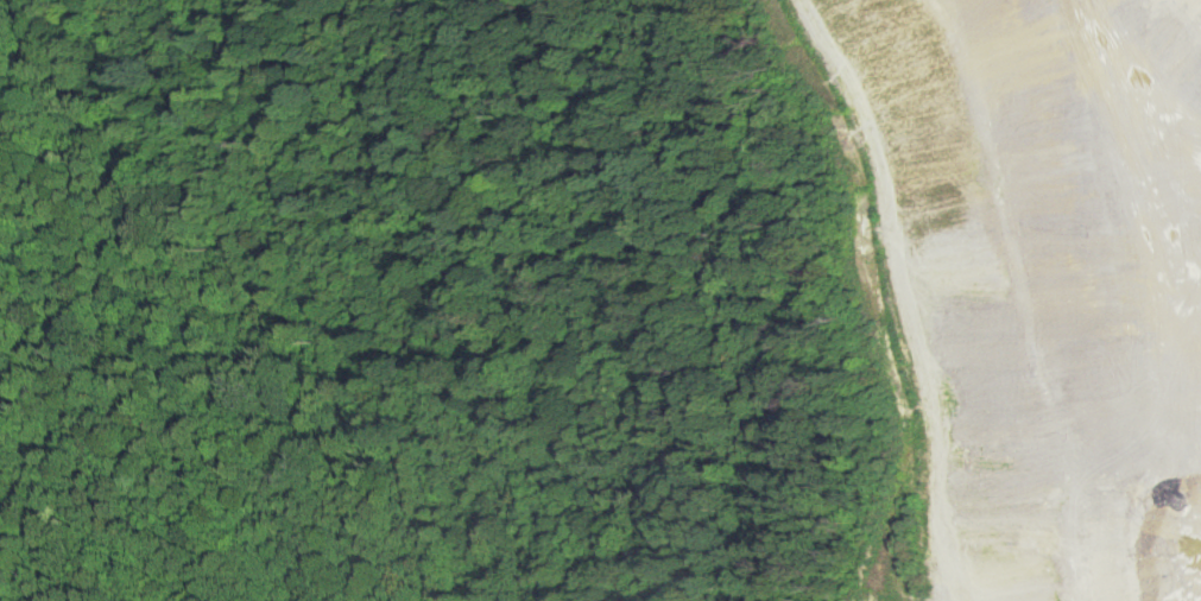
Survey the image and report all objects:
quarry: (1005, 289)

